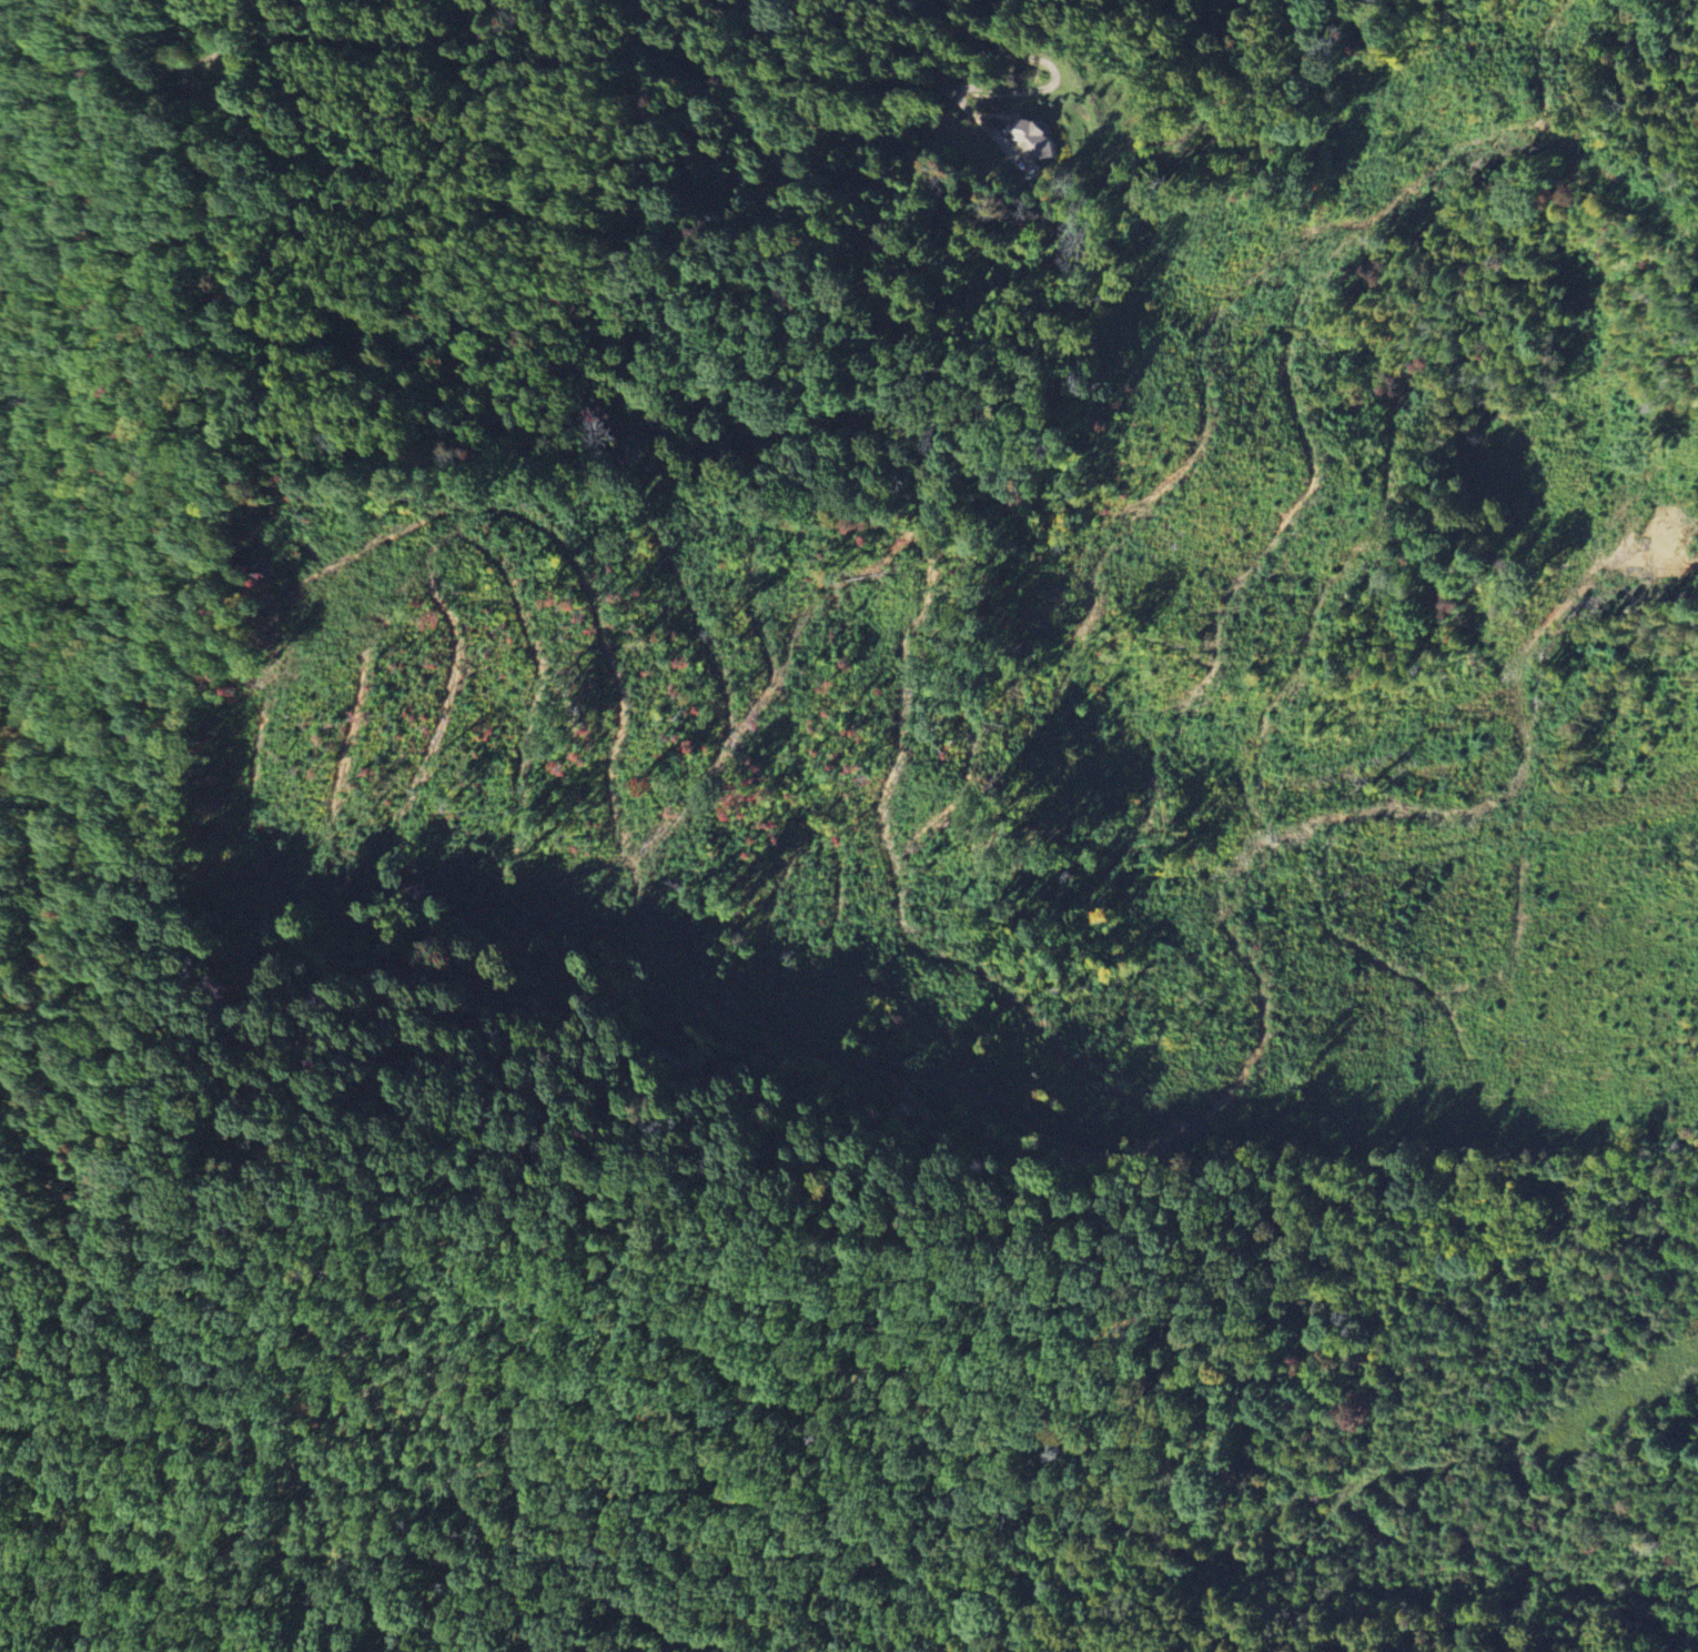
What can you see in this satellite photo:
building: (1039, 139)

